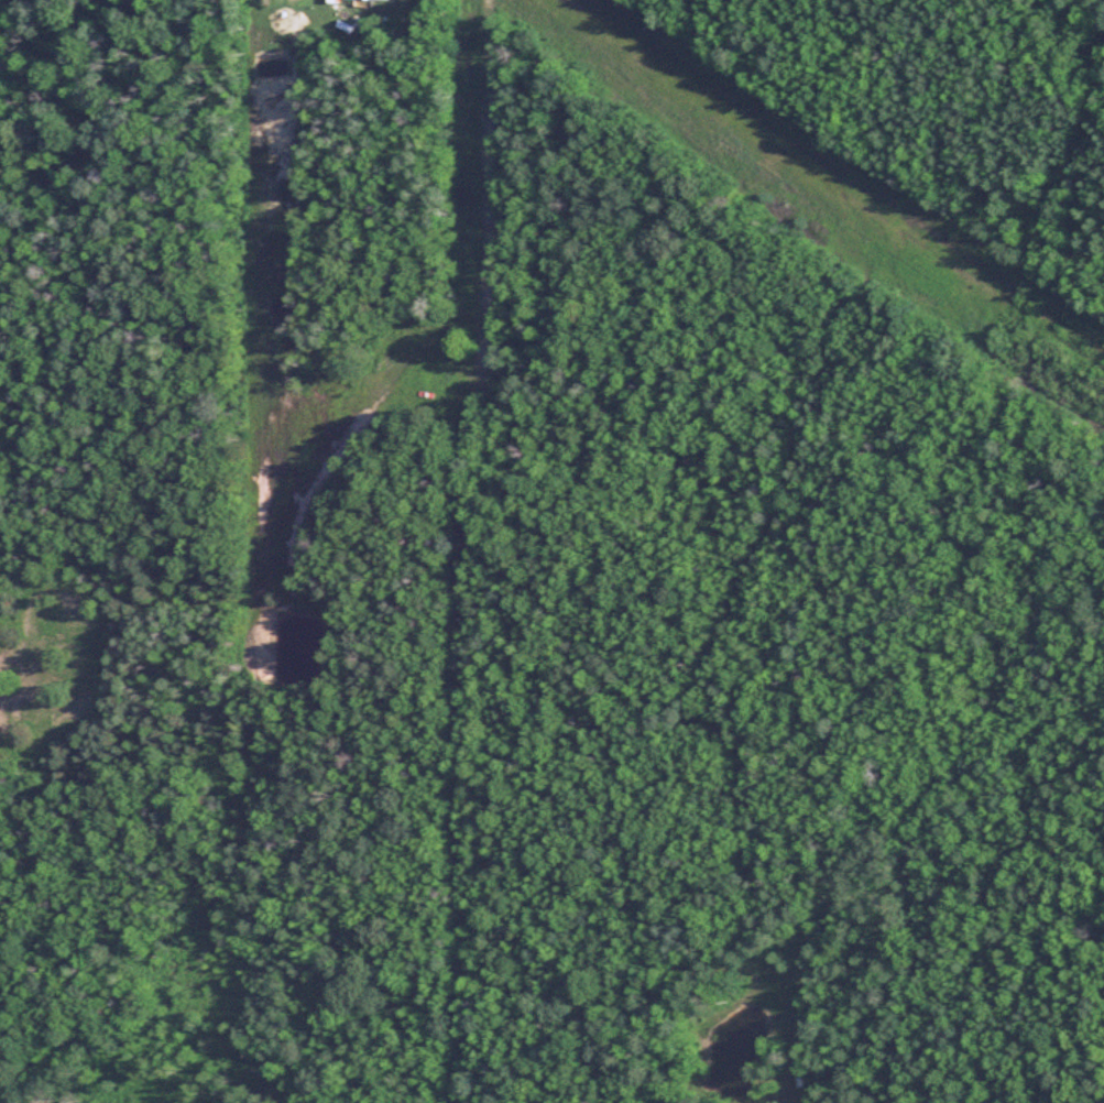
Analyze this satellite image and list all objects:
building: (329, 1)

